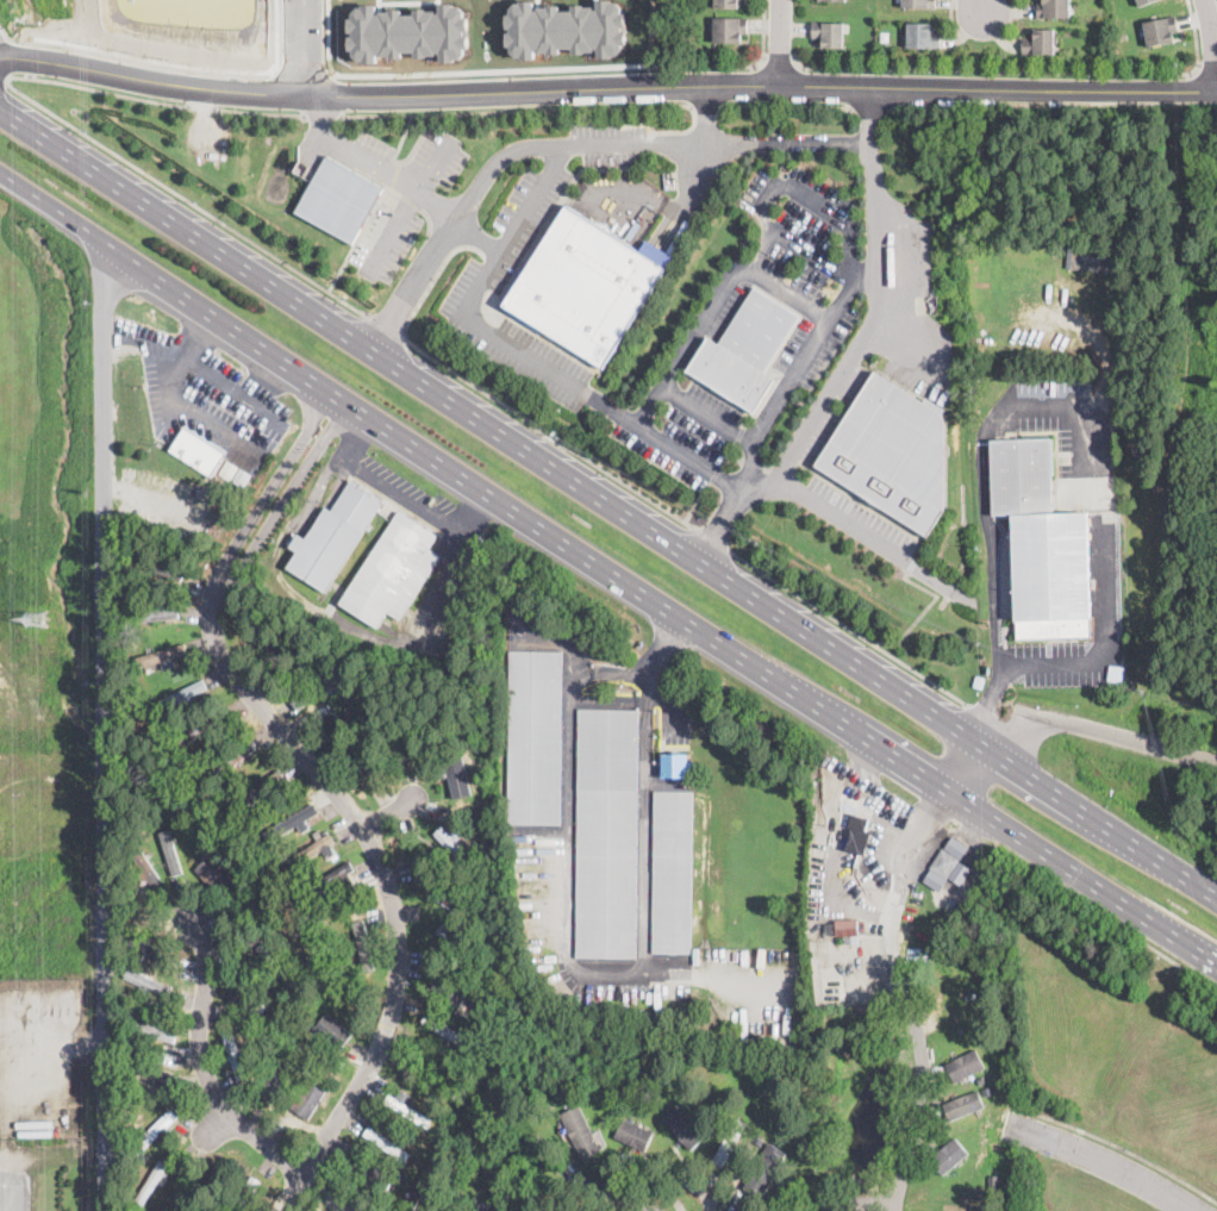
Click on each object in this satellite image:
building: (1143, 2)
building: (726, 4)
building: (918, 4)
road: (984, 6)
building: (1051, 8)
road: (951, 21)
road: (1212, 29)
building: (729, 30)
building: (1160, 31)
building: (829, 33)
building: (922, 36)
road: (782, 42)
building: (1038, 42)
road: (293, 46)
road: (317, 46)
road: (1, 55)
road: (779, 57)
road: (757, 63)
road: (1207, 70)
road: (1028, 71)
road: (606, 88)
road: (782, 104)
road: (706, 107)
road: (543, 108)
road: (323, 116)
road: (58, 117)
road: (324, 117)
road: (402, 135)
road: (593, 143)
road: (704, 151)
building: (213, 155)
road: (389, 182)
building: (953, 196)
building: (339, 198)
road: (407, 206)
building: (634, 230)
road: (356, 237)
road: (478, 239)
road: (806, 249)
road: (885, 252)
building: (1097, 262)
building: (585, 285)
road: (791, 294)
road: (468, 316)
road: (386, 323)
building: (747, 349)
road: (231, 389)
road: (659, 391)
road: (491, 395)
road: (175, 397)
parking lot: (208, 397)
road: (818, 416)
road: (982, 445)
building: (196, 451)
building: (892, 451)
building: (229, 468)
building: (242, 476)
road: (763, 482)
parking lot: (410, 493)
road: (400, 494)
road: (697, 500)
road: (606, 507)
building: (383, 513)
road: (847, 519)
road: (720, 528)
building: (332, 536)
road: (711, 538)
building: (1041, 542)
road: (608, 564)
building: (161, 567)
building: (393, 570)
building: (158, 613)
power tower: (36, 617)
building: (387, 622)
road: (849, 628)
building: (264, 644)
road: (667, 644)
building: (161, 655)
road: (1090, 658)
road: (623, 672)
building: (314, 689)
road: (649, 689)
building: (179, 694)
building: (354, 718)
road: (105, 725)
building: (202, 726)
road: (1099, 728)
building: (366, 731)
building: (535, 737)
building: (405, 741)
building: (233, 756)
building: (368, 766)
building: (675, 766)
road: (973, 767)
building: (463, 786)
building: (261, 788)
road: (332, 788)
building: (849, 804)
building: (293, 806)
road: (389, 810)
building: (292, 822)
building: (607, 832)
building: (857, 835)
building: (454, 847)
building: (314, 848)
building: (170, 850)
building: (143, 862)
building: (943, 863)
building: (673, 872)
building: (217, 875)
building: (483, 876)
building: (332, 879)
building: (453, 901)
building: (233, 910)
road: (1109, 918)
building: (273, 926)
building: (841, 930)
building: (456, 940)
building: (363, 942)
building: (156, 954)
building: (275, 963)
road: (585, 966)
road: (713, 969)
building: (146, 980)
building: (453, 990)
road: (901, 992)
building: (244, 1001)
building: (262, 1004)
building: (256, 1024)
building: (154, 1030)
building: (447, 1030)
building: (960, 1031)
building: (332, 1032)
building: (474, 1044)
building: (235, 1055)
building: (251, 1057)
road: (201, 1065)
building: (961, 1067)
building: (160, 1074)
building: (980, 1079)
building: (272, 1090)
building: (988, 1091)
building: (963, 1104)
building: (307, 1109)
building: (407, 1111)
building: (443, 1121)
building: (682, 1125)
building: (776, 1128)
building: (155, 1130)
building: (580, 1131)
building: (635, 1132)
building: (759, 1140)
building: (729, 1141)
building: (383, 1142)
road: (1124, 1149)
road: (49, 1150)
building: (948, 1154)
road: (1106, 1157)
building: (412, 1161)
building: (367, 1168)
building: (764, 1171)
building: (235, 1176)
building: (991, 1180)
building: (151, 1184)
building: (423, 1185)
building: (202, 1190)
road: (325, 1191)
building: (246, 1194)
building: (435, 1194)
building: (473, 1199)
road: (628, 1203)
road: (863, 1203)
building: (487, 1210)

